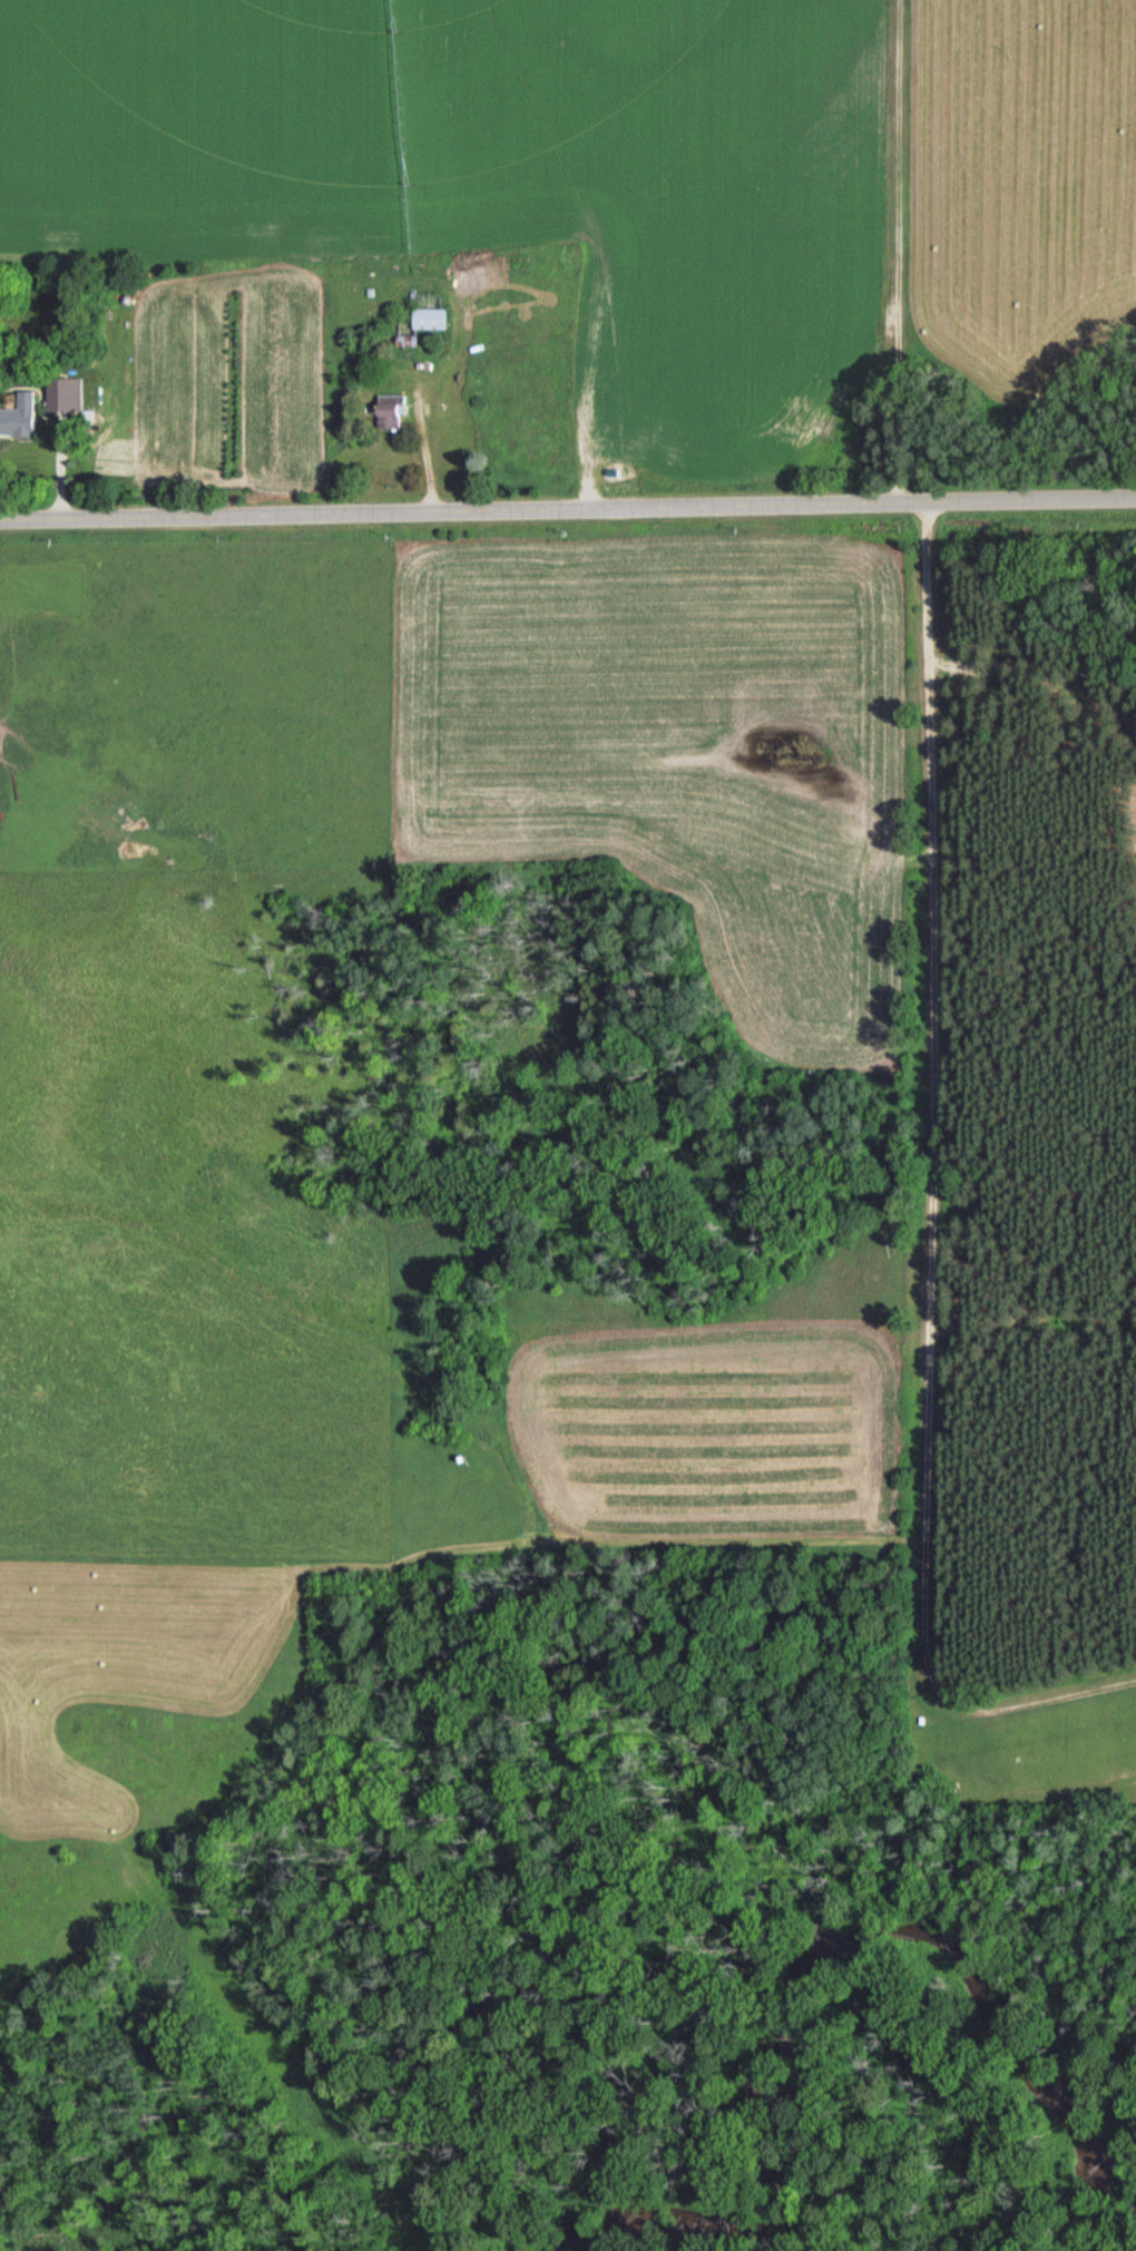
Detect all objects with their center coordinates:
building: (427, 319)
building: (58, 395)
building: (388, 411)
building: (19, 418)
road: (567, 513)
road: (938, 1202)
river: (829, 1934)

